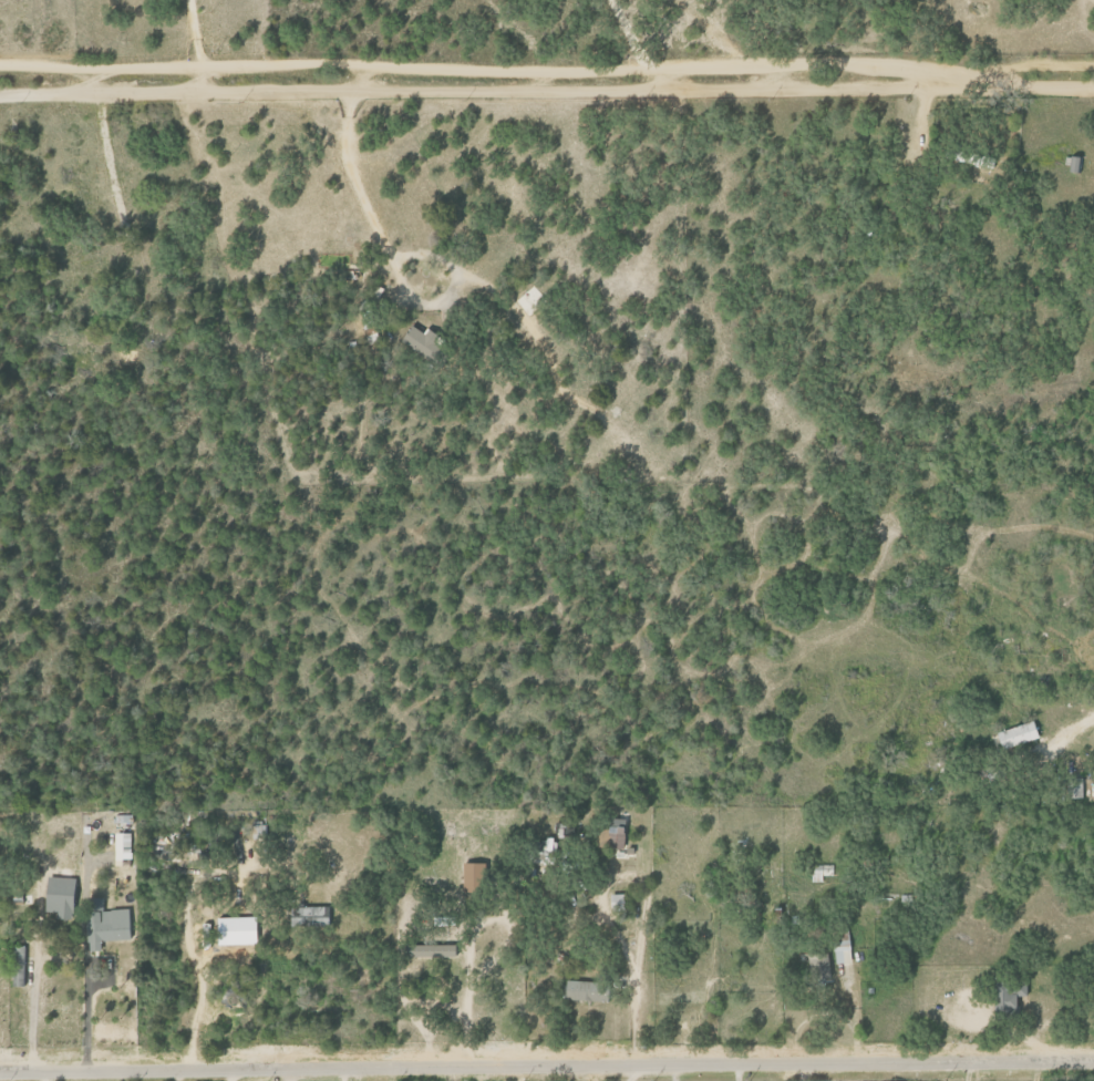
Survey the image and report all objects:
road: (188, 31)
road: (96, 68)
road: (643, 69)
road: (547, 82)
road: (361, 186)
building: (422, 340)
road: (1076, 721)
building: (1016, 735)
building: (1074, 787)
building: (617, 834)
building: (122, 841)
building: (544, 845)
building: (822, 873)
building: (469, 876)
building: (59, 896)
road: (606, 909)
building: (310, 916)
building: (104, 923)
building: (235, 930)
road: (472, 933)
building: (840, 946)
building: (427, 950)
road: (193, 955)
building: (818, 965)
road: (35, 975)
building: (585, 990)
building: (1009, 992)
road: (86, 1021)
road: (416, 1023)
road: (546, 1067)
road: (967, 1071)
road: (633, 1072)
road: (804, 1072)

